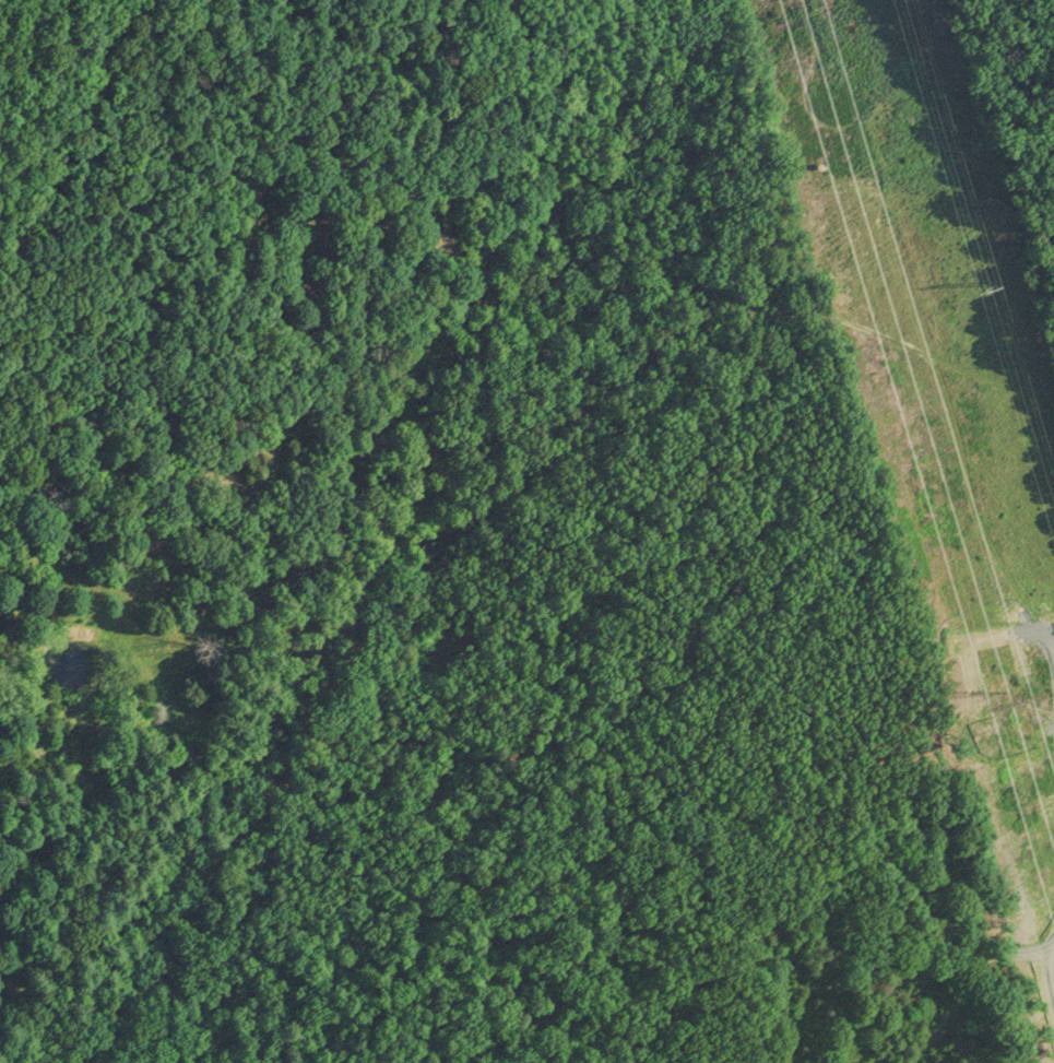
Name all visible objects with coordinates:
power tower: (993, 281)
road: (1007, 387)
power tower: (1005, 697)

